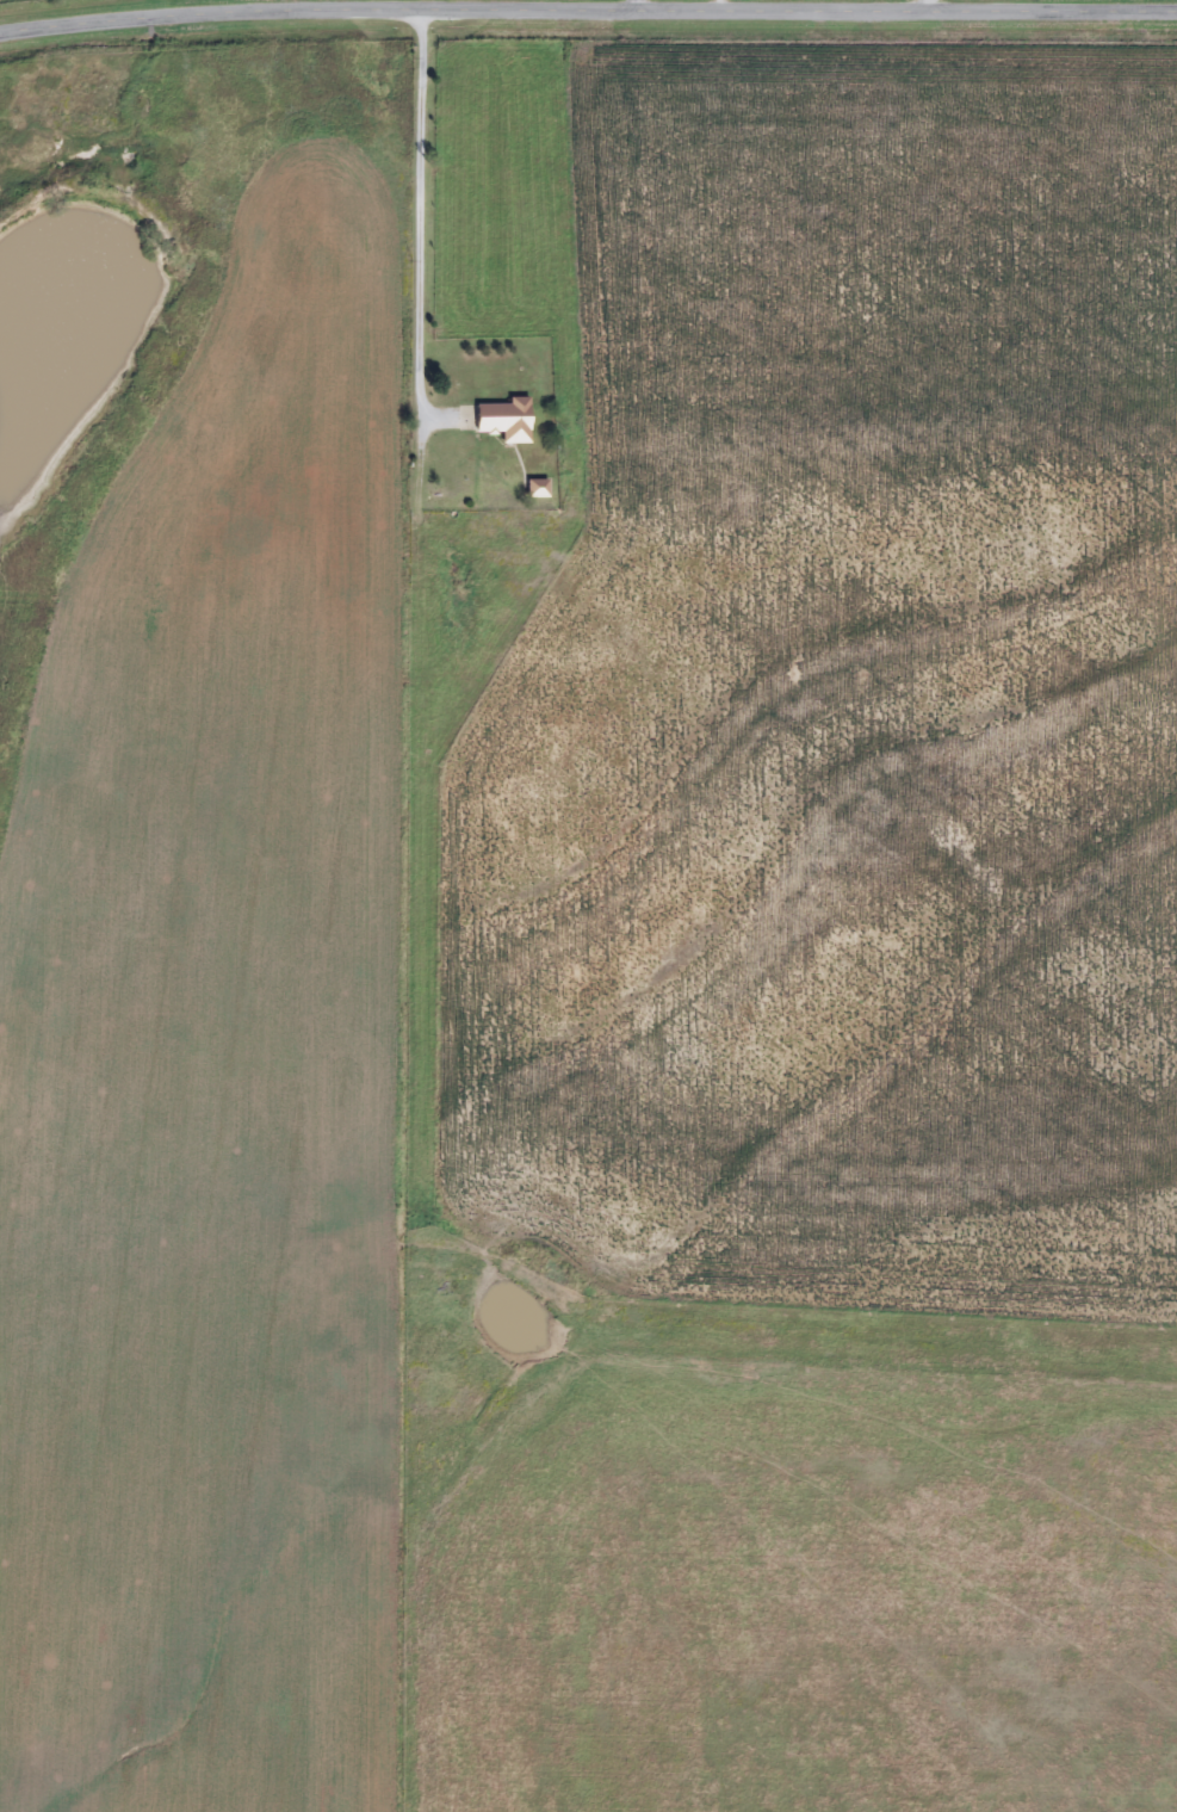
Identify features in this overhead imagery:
road: (587, 11)
building: (501, 420)

